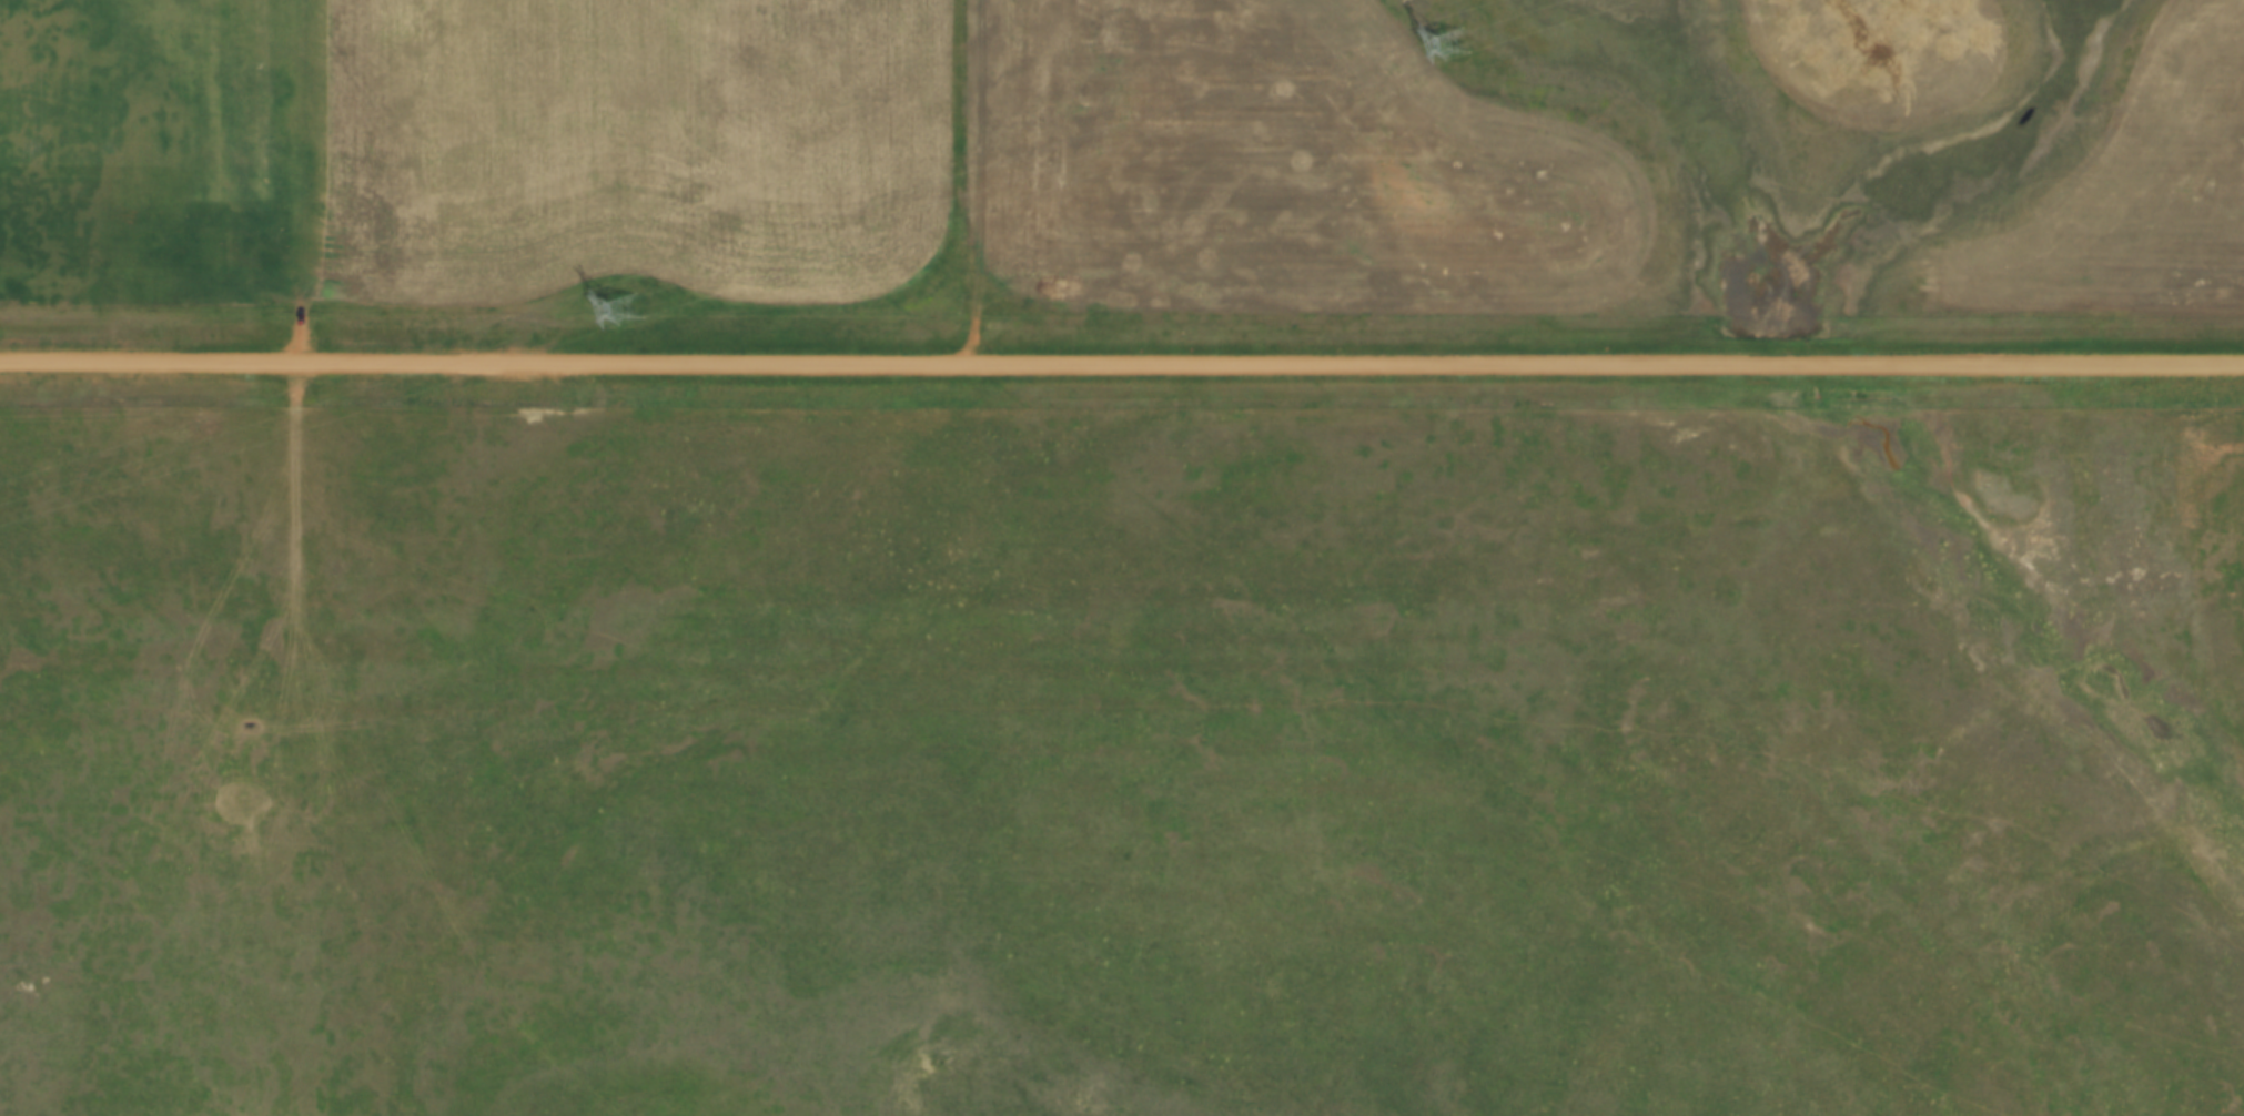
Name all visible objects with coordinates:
power tower: (1463, 42)
power tower: (634, 308)
road: (1122, 367)

